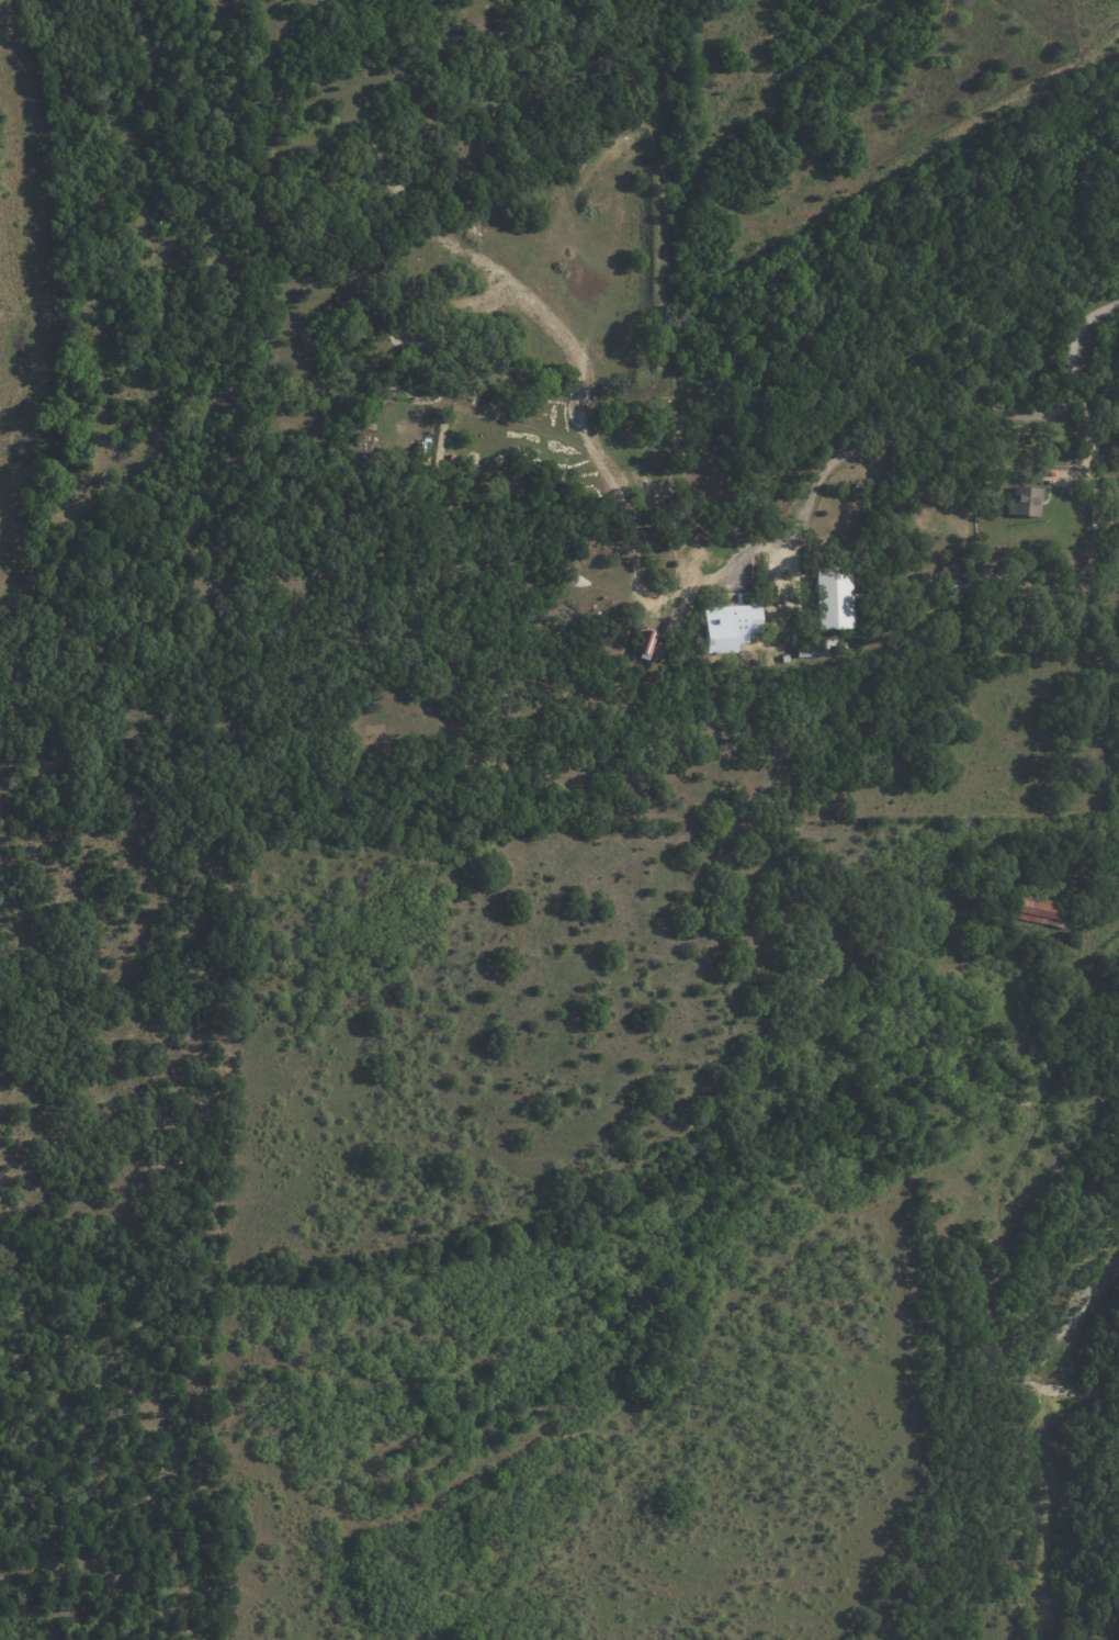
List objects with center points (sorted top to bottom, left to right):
road: (956, 415)
road: (1092, 449)
building: (1025, 502)
building: (954, 575)
building: (836, 598)
building: (990, 602)
building: (1004, 621)
building: (730, 624)
building: (645, 641)
building: (986, 647)
building: (813, 648)
building: (784, 659)
building: (767, 660)
building: (1036, 909)

